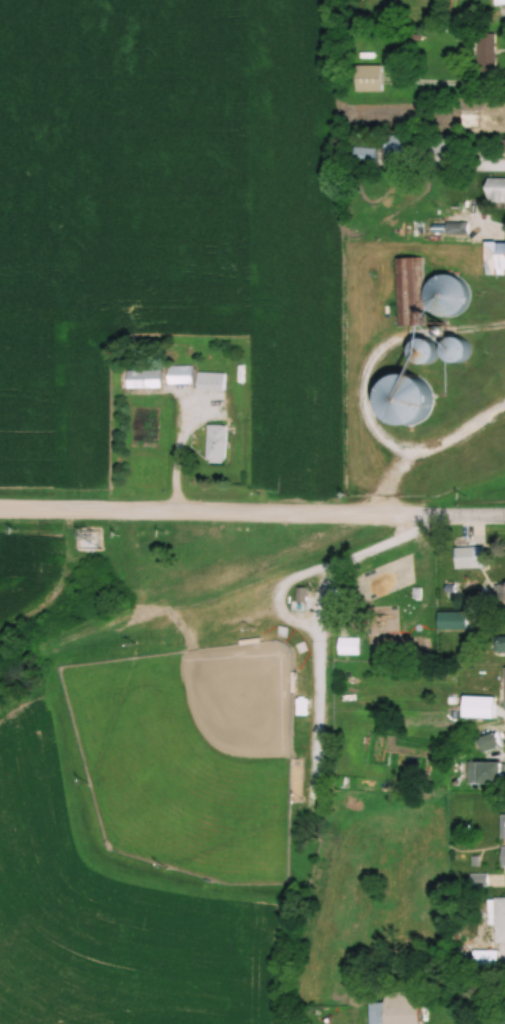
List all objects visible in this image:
building: (487, 52)
building: (370, 77)
building: (468, 117)
building: (398, 143)
building: (443, 143)
building: (368, 150)
building: (496, 188)
building: (496, 257)
building: (408, 290)
building: (452, 293)
storage tank: (452, 293)
building: (461, 349)
building: (180, 373)
building: (145, 377)
building: (212, 380)
road: (369, 397)
building: (415, 398)
storage tank: (415, 398)
building: (218, 443)
road: (185, 446)
road: (391, 479)
road: (163, 515)
road: (415, 517)
building: (470, 557)
crop: (27, 575)
building: (500, 592)
park: (385, 608)
building: (453, 621)
building: (503, 644)
building: (504, 685)
building: (476, 704)
building: (303, 707)
building: (492, 742)
park: (190, 756)
building: (487, 773)
building: (503, 826)
building: (503, 856)
building: (498, 918)
building: (396, 1010)

